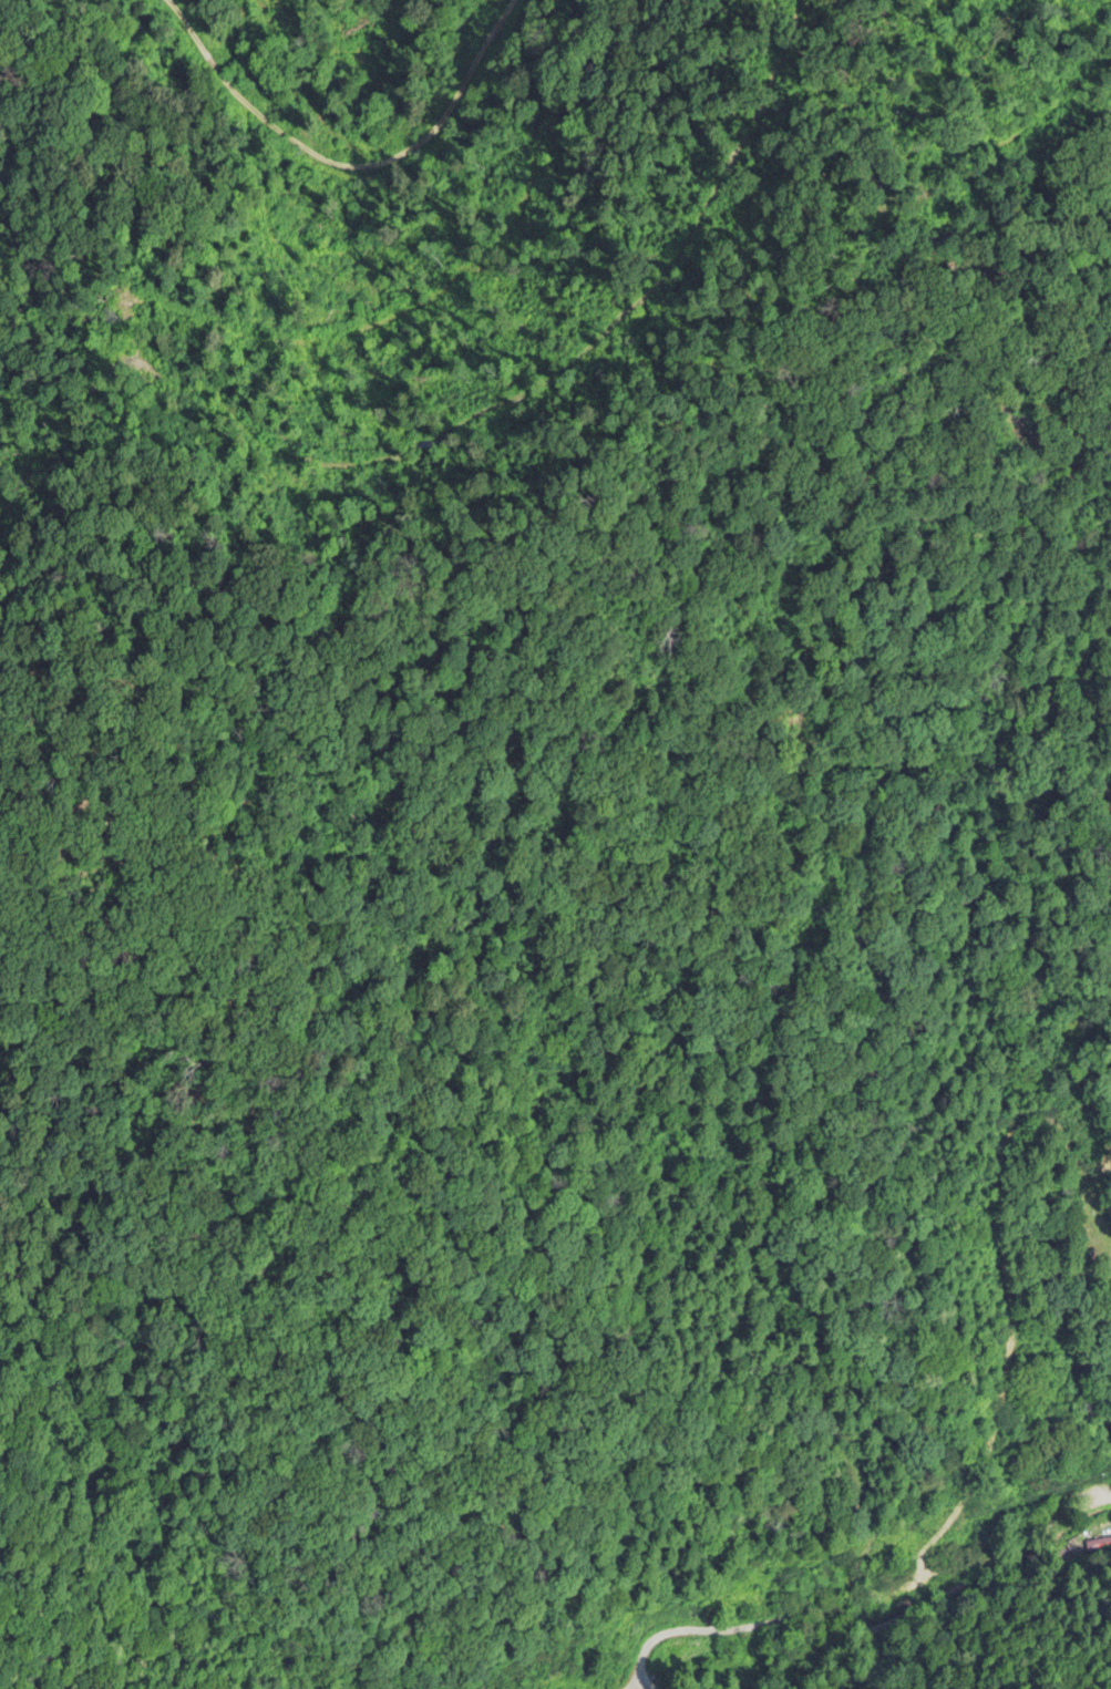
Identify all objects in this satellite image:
road: (861, 1607)

